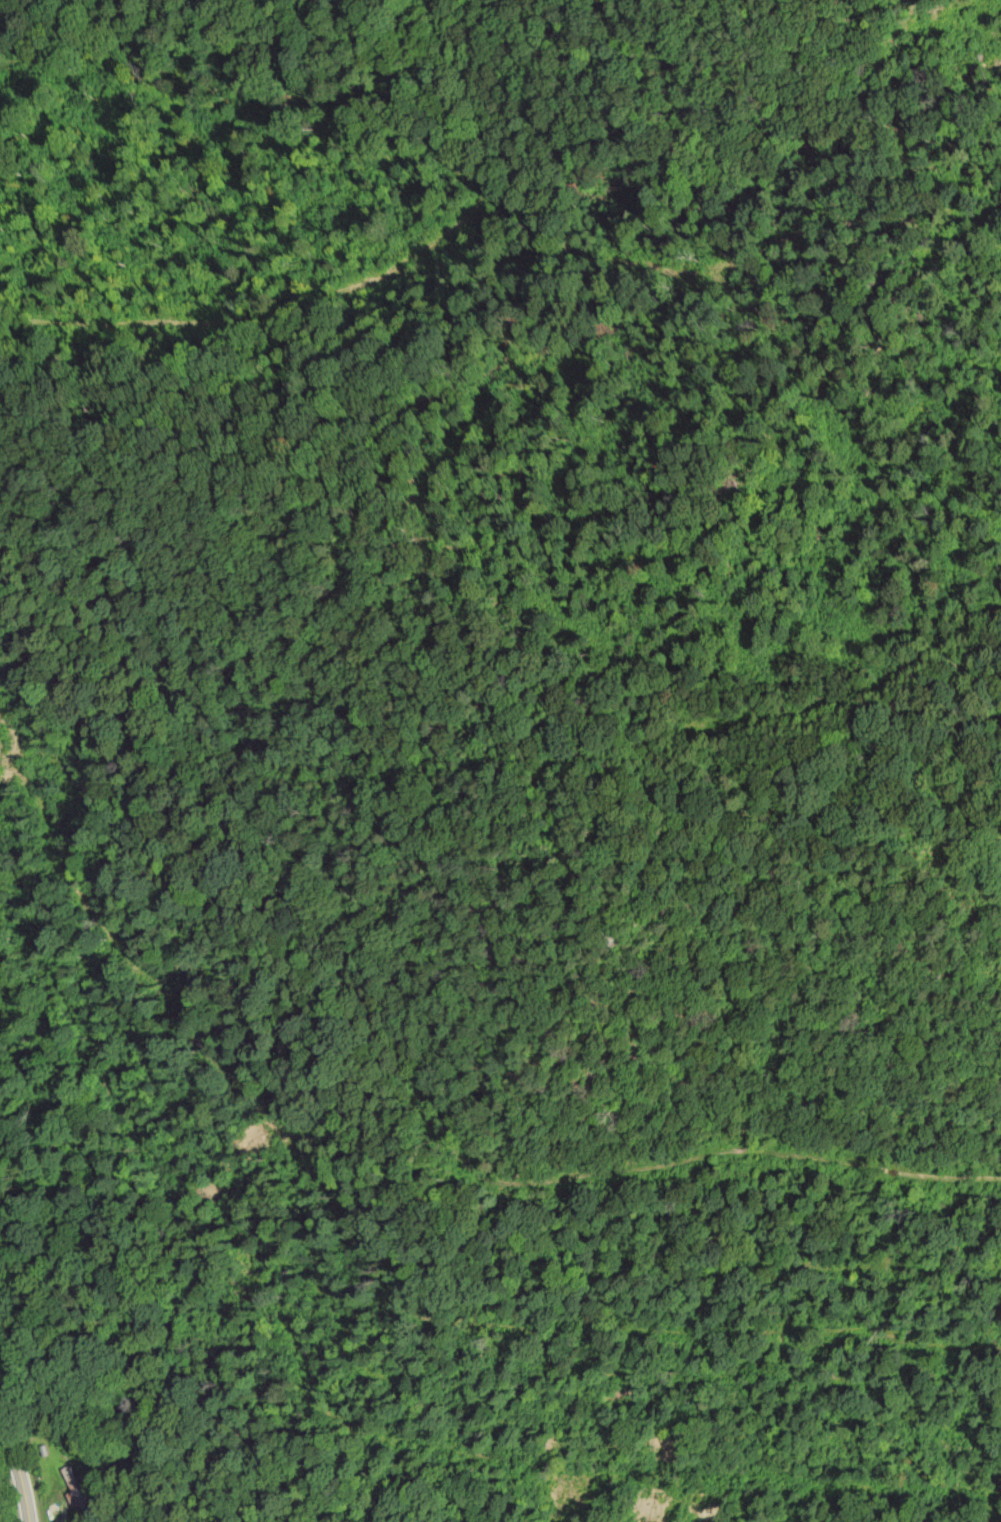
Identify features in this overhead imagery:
road: (12, 1471)

